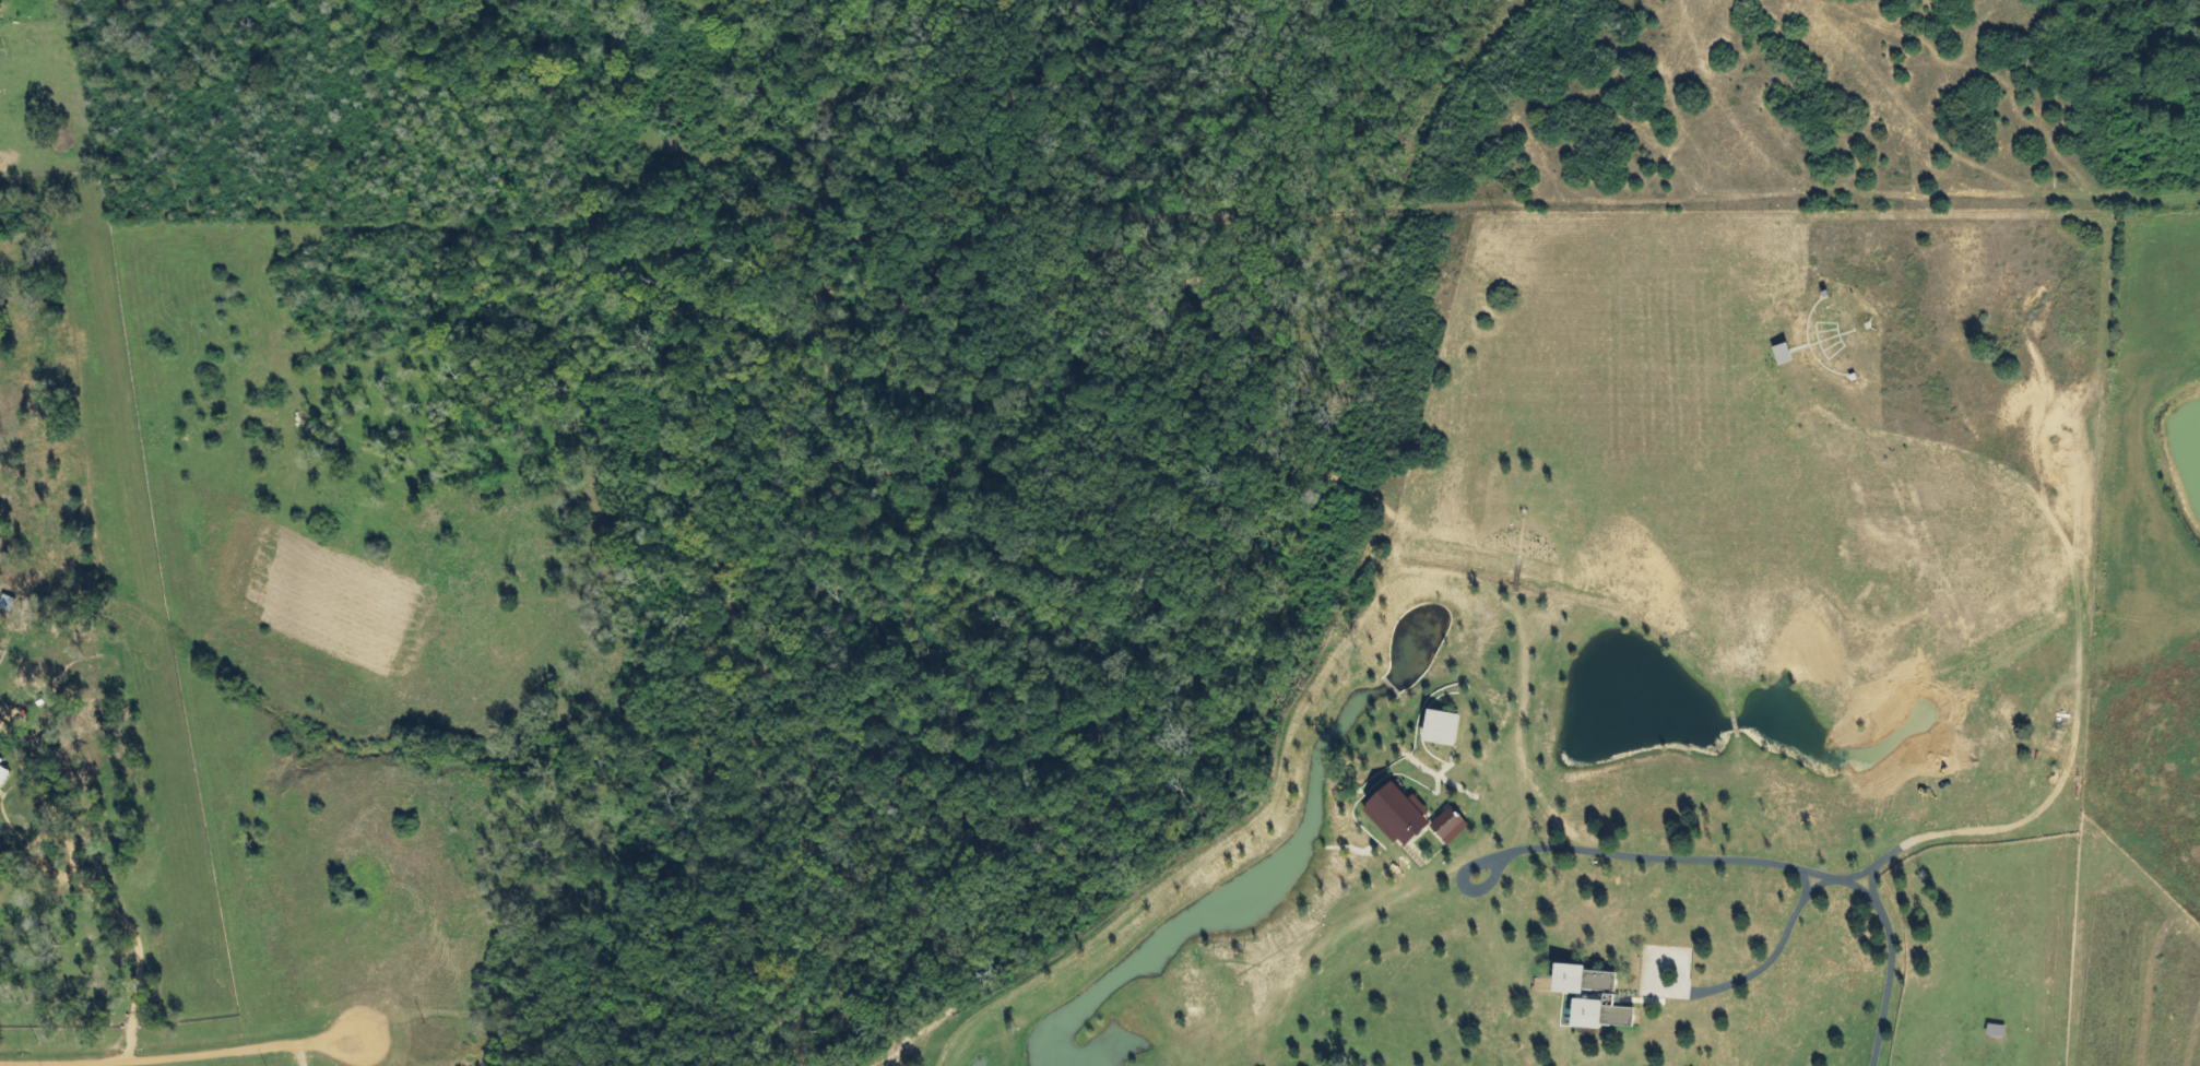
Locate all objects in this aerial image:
building: (1439, 727)
building: (0, 761)
building: (3, 775)
building: (1396, 814)
building: (1448, 826)
road: (1737, 858)
road: (1811, 889)
road: (88, 895)
road: (1710, 988)
building: (1606, 995)
road: (214, 1054)
road: (11, 1065)

